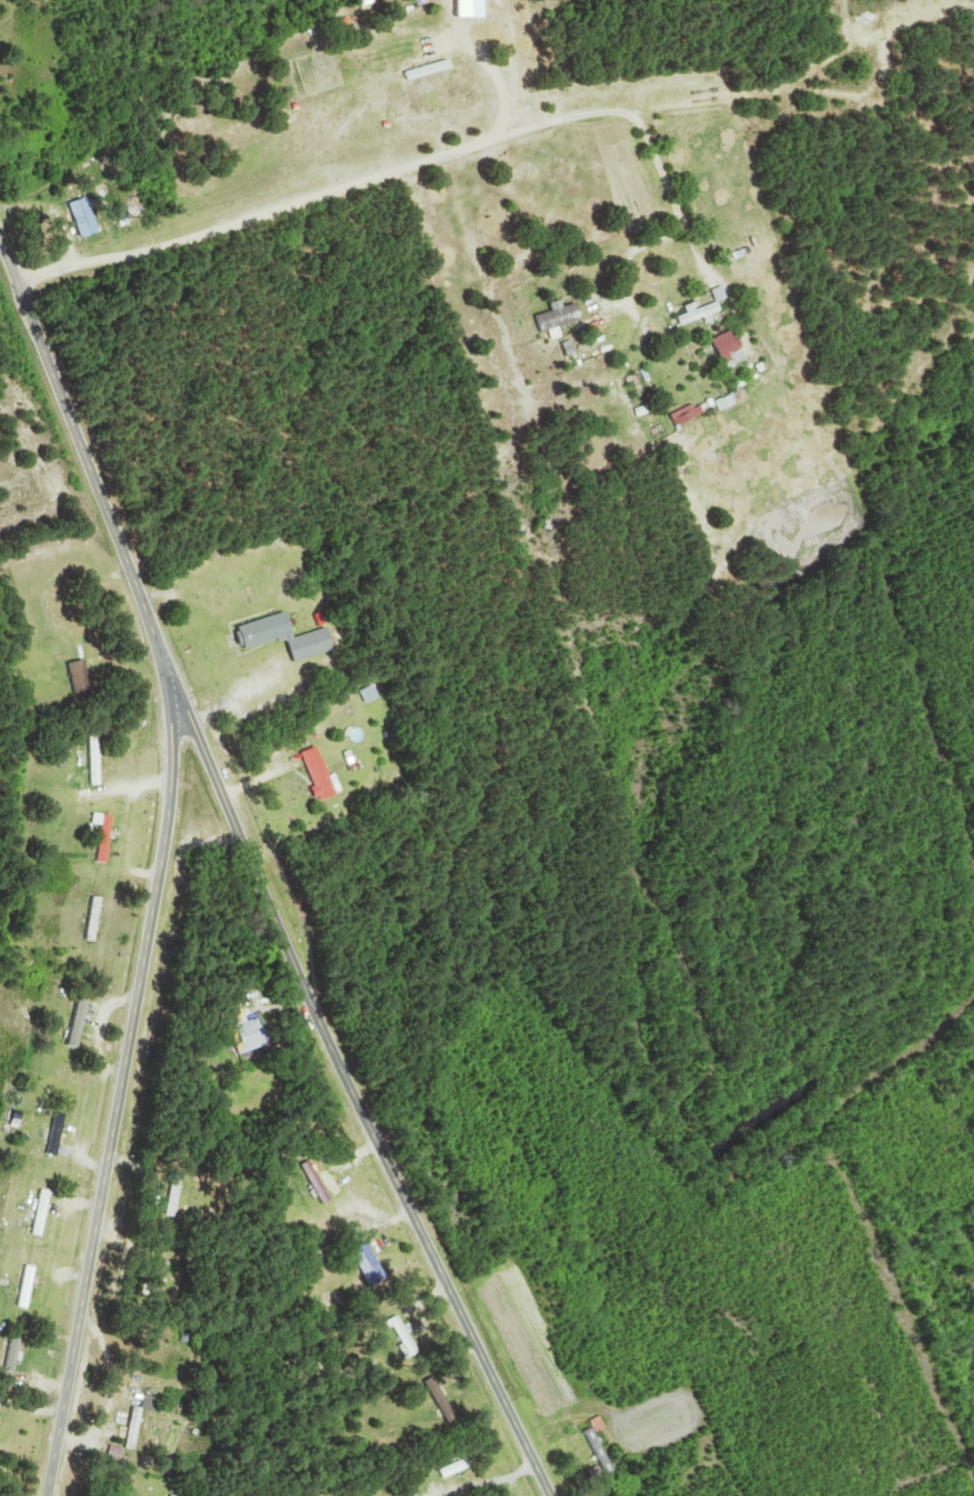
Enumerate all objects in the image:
road: (410, 166)
building: (84, 217)
road: (634, 249)
building: (696, 310)
building: (721, 348)
building: (722, 401)
building: (680, 414)
building: (63, 611)
building: (268, 630)
building: (82, 677)
building: (371, 695)
building: (97, 760)
building: (323, 774)
building: (107, 839)
road: (256, 873)
building: (97, 918)
building: (81, 1022)
building: (254, 1035)
road: (122, 1091)
building: (60, 1134)
building: (320, 1183)
building: (177, 1199)
building: (43, 1212)
building: (373, 1263)
building: (165, 1281)
building: (31, 1287)
building: (407, 1337)
building: (1, 1424)
building: (141, 1430)
building: (601, 1450)
building: (460, 1469)

